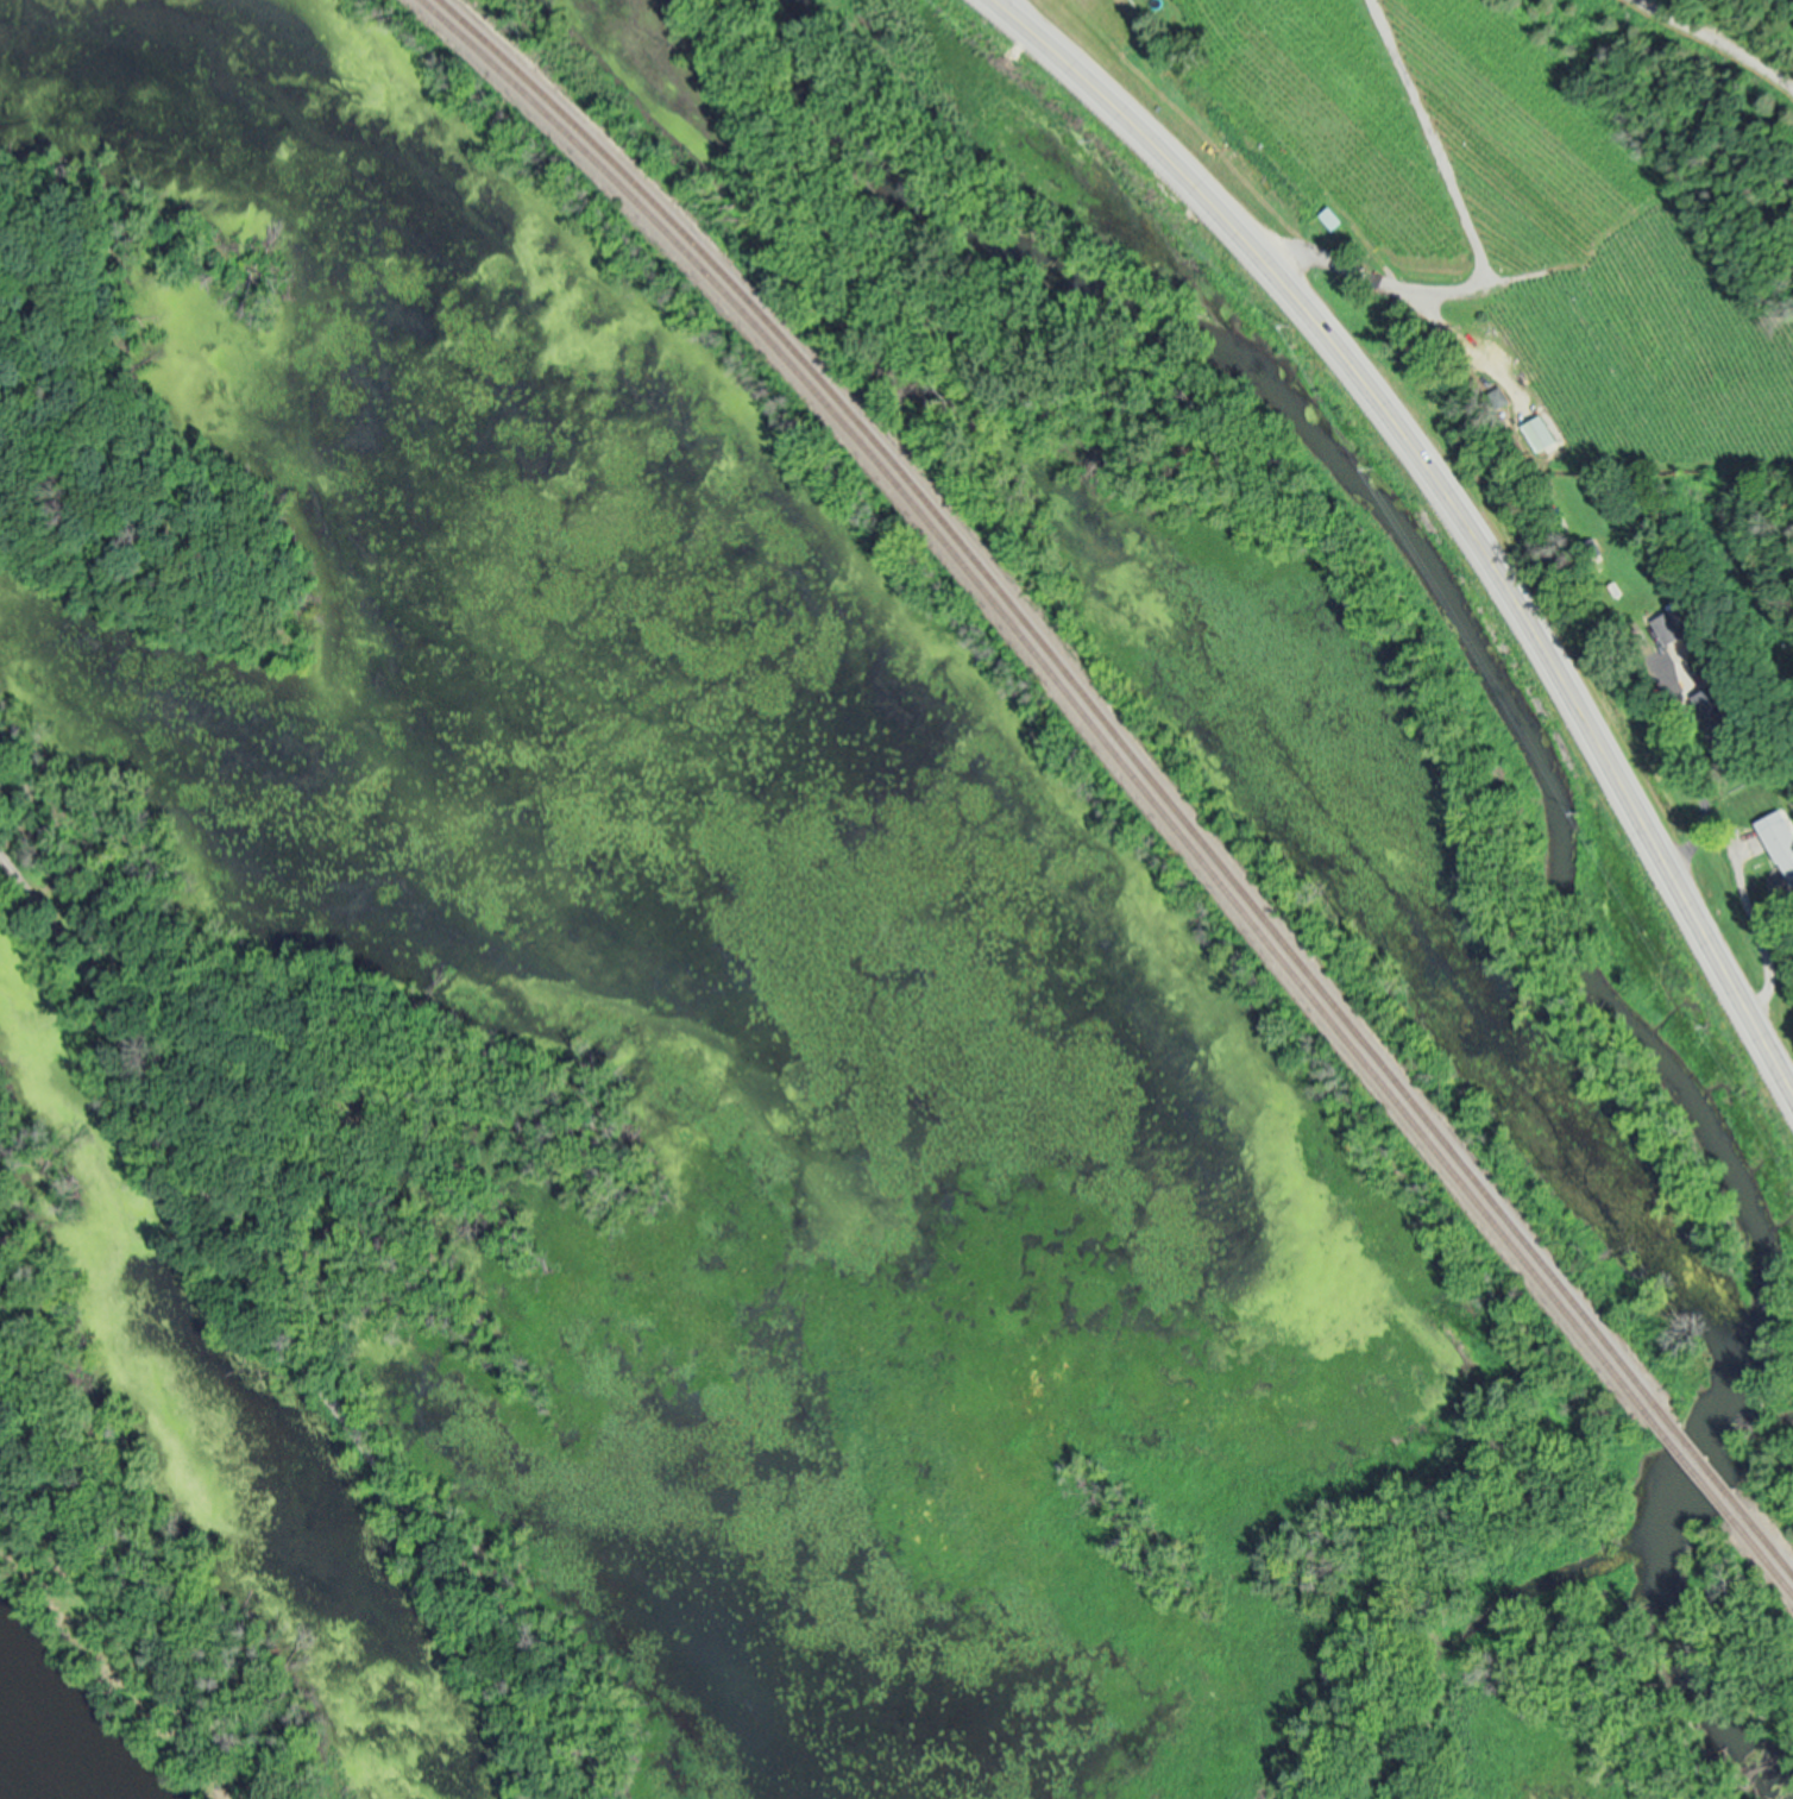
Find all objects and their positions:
road: (1716, 43)
road: (1471, 241)
road: (1455, 498)
railway: (1074, 680)
railway: (1062, 683)
road: (1694, 774)
road: (1757, 926)
road: (284, 1326)
railway: (1700, 1457)
railway: (1691, 1464)
railway: (1768, 1542)
railway: (1763, 1554)
road: (133, 1629)

